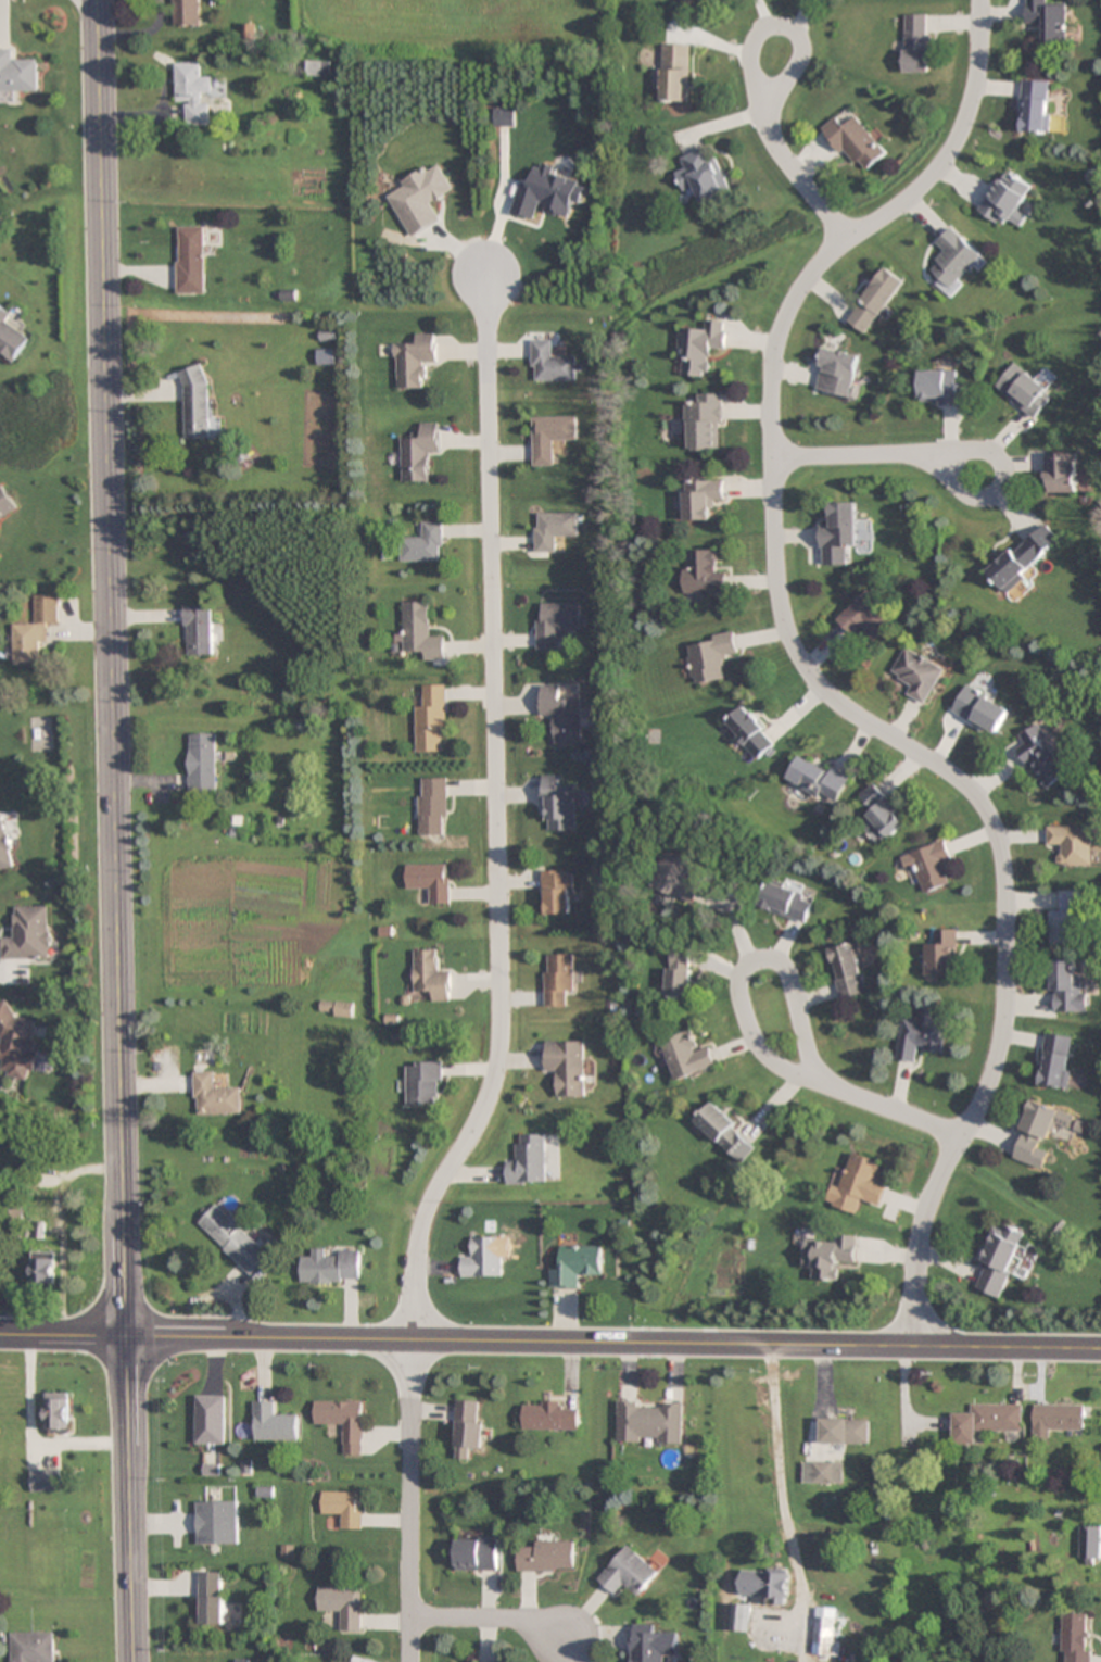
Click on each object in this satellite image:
building: (685, 0)
building: (717, 0)
building: (186, 12)
building: (1047, 21)
crop: (450, 26)
building: (916, 42)
road: (751, 56)
building: (317, 67)
building: (17, 73)
building: (674, 73)
building: (193, 92)
building: (1036, 106)
building: (856, 143)
building: (703, 176)
road: (801, 179)
building: (1007, 200)
building: (191, 260)
building: (954, 262)
building: (874, 300)
building: (10, 337)
building: (701, 349)
building: (414, 361)
building: (550, 364)
building: (837, 373)
building: (941, 388)
building: (1023, 390)
building: (198, 405)
building: (705, 423)
building: (549, 437)
building: (417, 452)
road: (849, 456)
road: (1001, 467)
building: (1060, 473)
building: (703, 499)
building: (5, 504)
building: (553, 529)
building: (838, 533)
building: (422, 543)
building: (1023, 557)
building: (703, 574)
building: (866, 617)
building: (554, 622)
building: (198, 630)
building: (36, 631)
building: (418, 631)
building: (710, 658)
building: (918, 675)
road: (817, 682)
building: (979, 709)
building: (560, 715)
building: (430, 720)
building: (750, 732)
building: (1041, 757)
building: (202, 761)
building: (817, 779)
building: (557, 804)
building: (432, 806)
building: (879, 815)
road: (115, 831)
building: (1071, 845)
building: (5, 846)
building: (927, 866)
building: (680, 877)
building: (429, 881)
building: (557, 894)
building: (786, 902)
building: (1065, 919)
building: (29, 934)
building: (941, 954)
building: (847, 971)
building: (680, 972)
road: (498, 974)
building: (430, 975)
building: (558, 980)
building: (1066, 987)
building: (336, 1008)
road: (747, 1022)
building: (921, 1034)
building: (16, 1044)
building: (687, 1057)
building: (1055, 1060)
building: (569, 1067)
building: (423, 1083)
building: (215, 1096)
road: (895, 1111)
building: (1040, 1132)
building: (726, 1133)
building: (528, 1160)
building: (858, 1184)
building: (17, 1211)
building: (233, 1239)
building: (830, 1256)
building: (483, 1258)
building: (999, 1259)
building: (577, 1266)
building: (330, 1267)
building: (45, 1269)
road: (549, 1342)
building: (58, 1412)
building: (549, 1415)
building: (1056, 1418)
building: (210, 1419)
building: (986, 1421)
building: (273, 1423)
building: (343, 1423)
building: (649, 1423)
building: (468, 1430)
building: (845, 1431)
building: (822, 1472)
road: (776, 1473)
building: (47, 1481)
building: (343, 1507)
building: (217, 1522)
building: (1089, 1545)
building: (477, 1554)
building: (546, 1557)
building: (628, 1573)
building: (763, 1586)
building: (212, 1598)
building: (342, 1606)
road: (490, 1619)
building: (738, 1619)
building: (824, 1635)
building: (1075, 1637)
building: (650, 1644)
building: (33, 1647)

